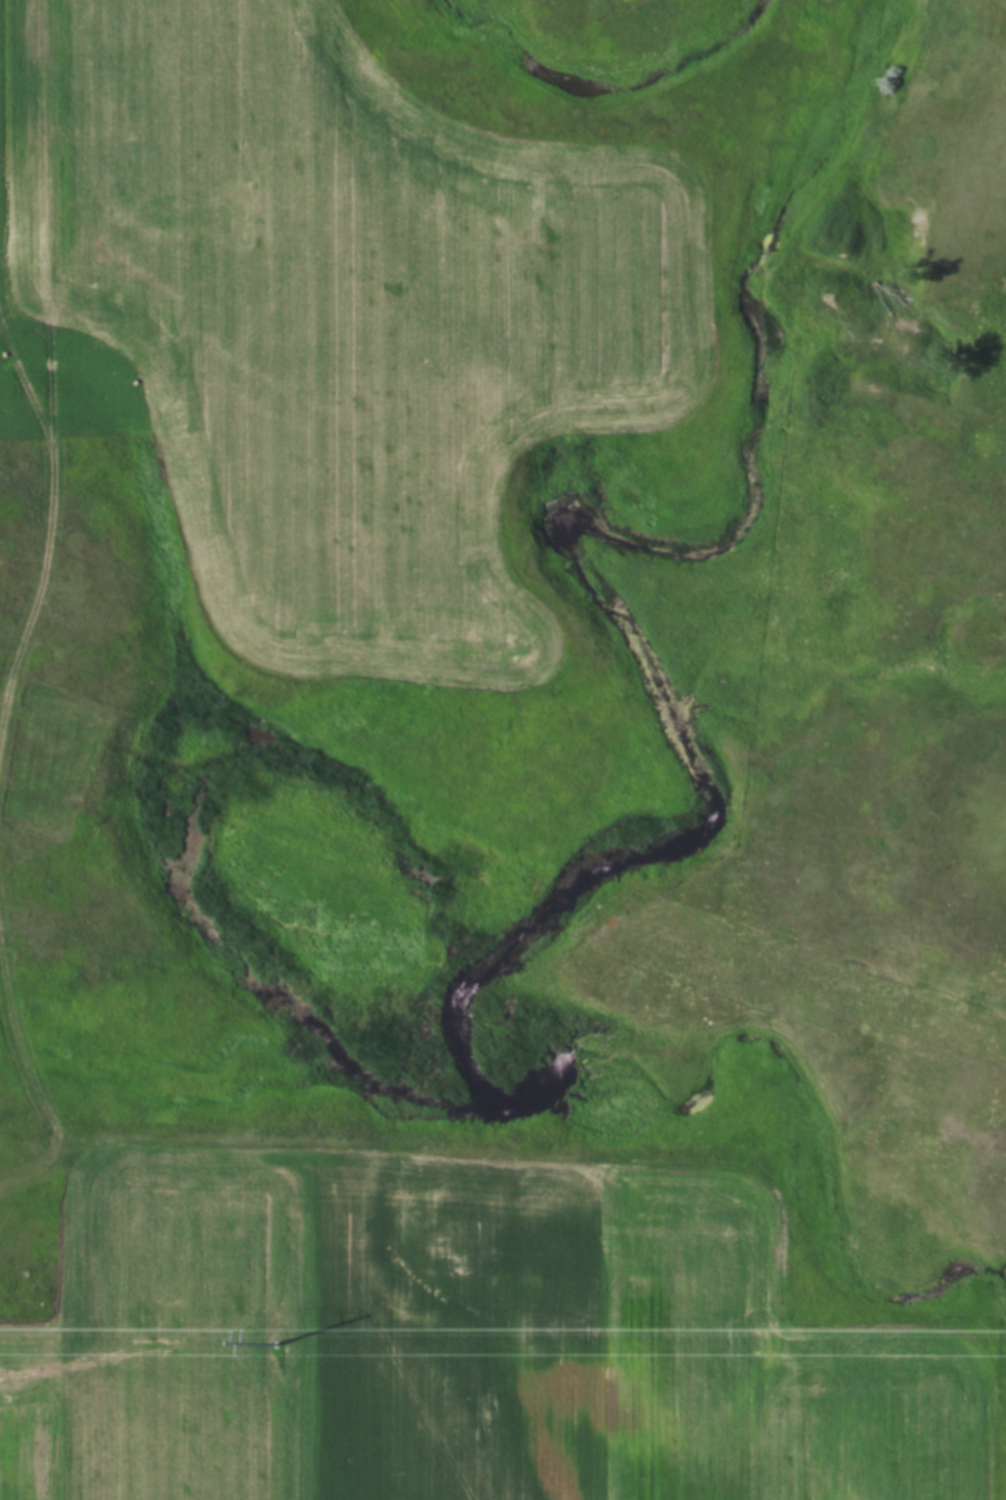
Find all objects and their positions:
power tower: (271, 1344)

